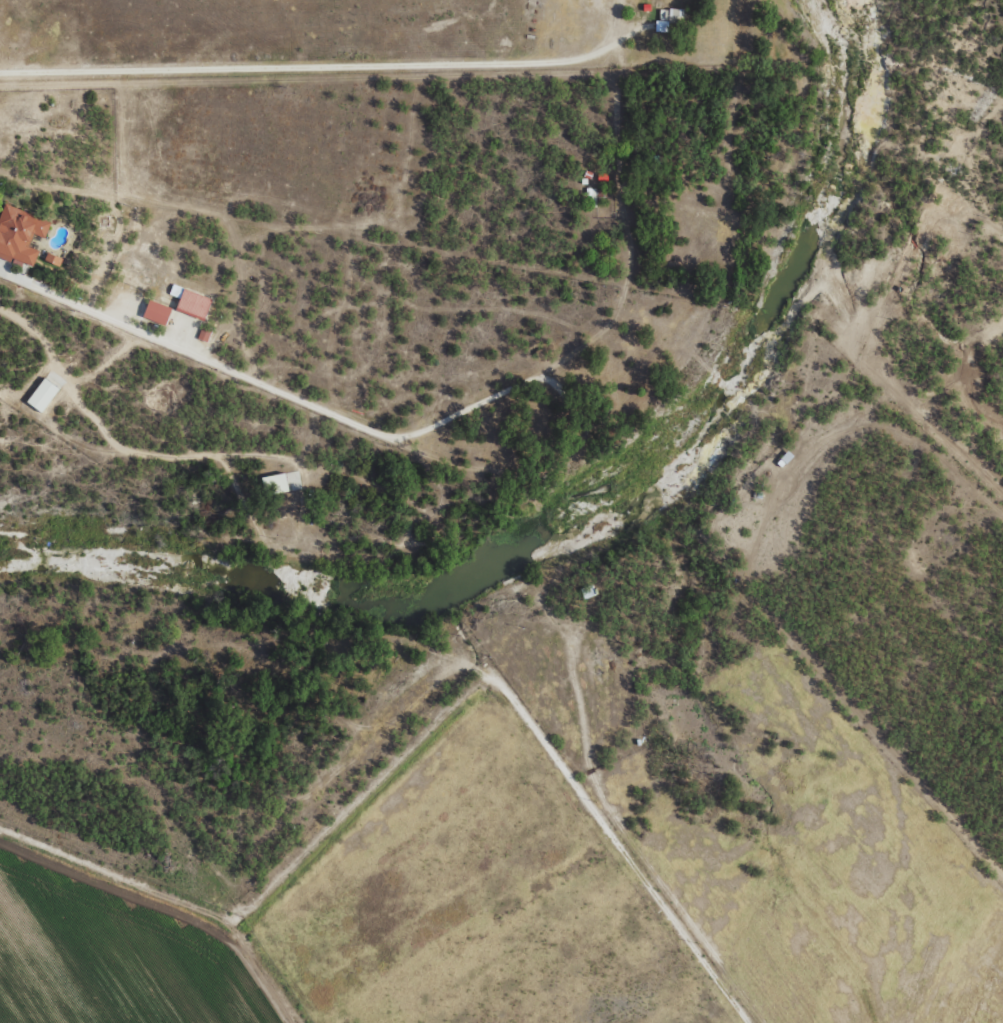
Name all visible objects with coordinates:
building: (669, 19)
building: (20, 235)
building: (53, 259)
building: (194, 304)
building: (157, 312)
building: (204, 335)
building: (46, 391)
building: (281, 483)
road: (456, 720)

